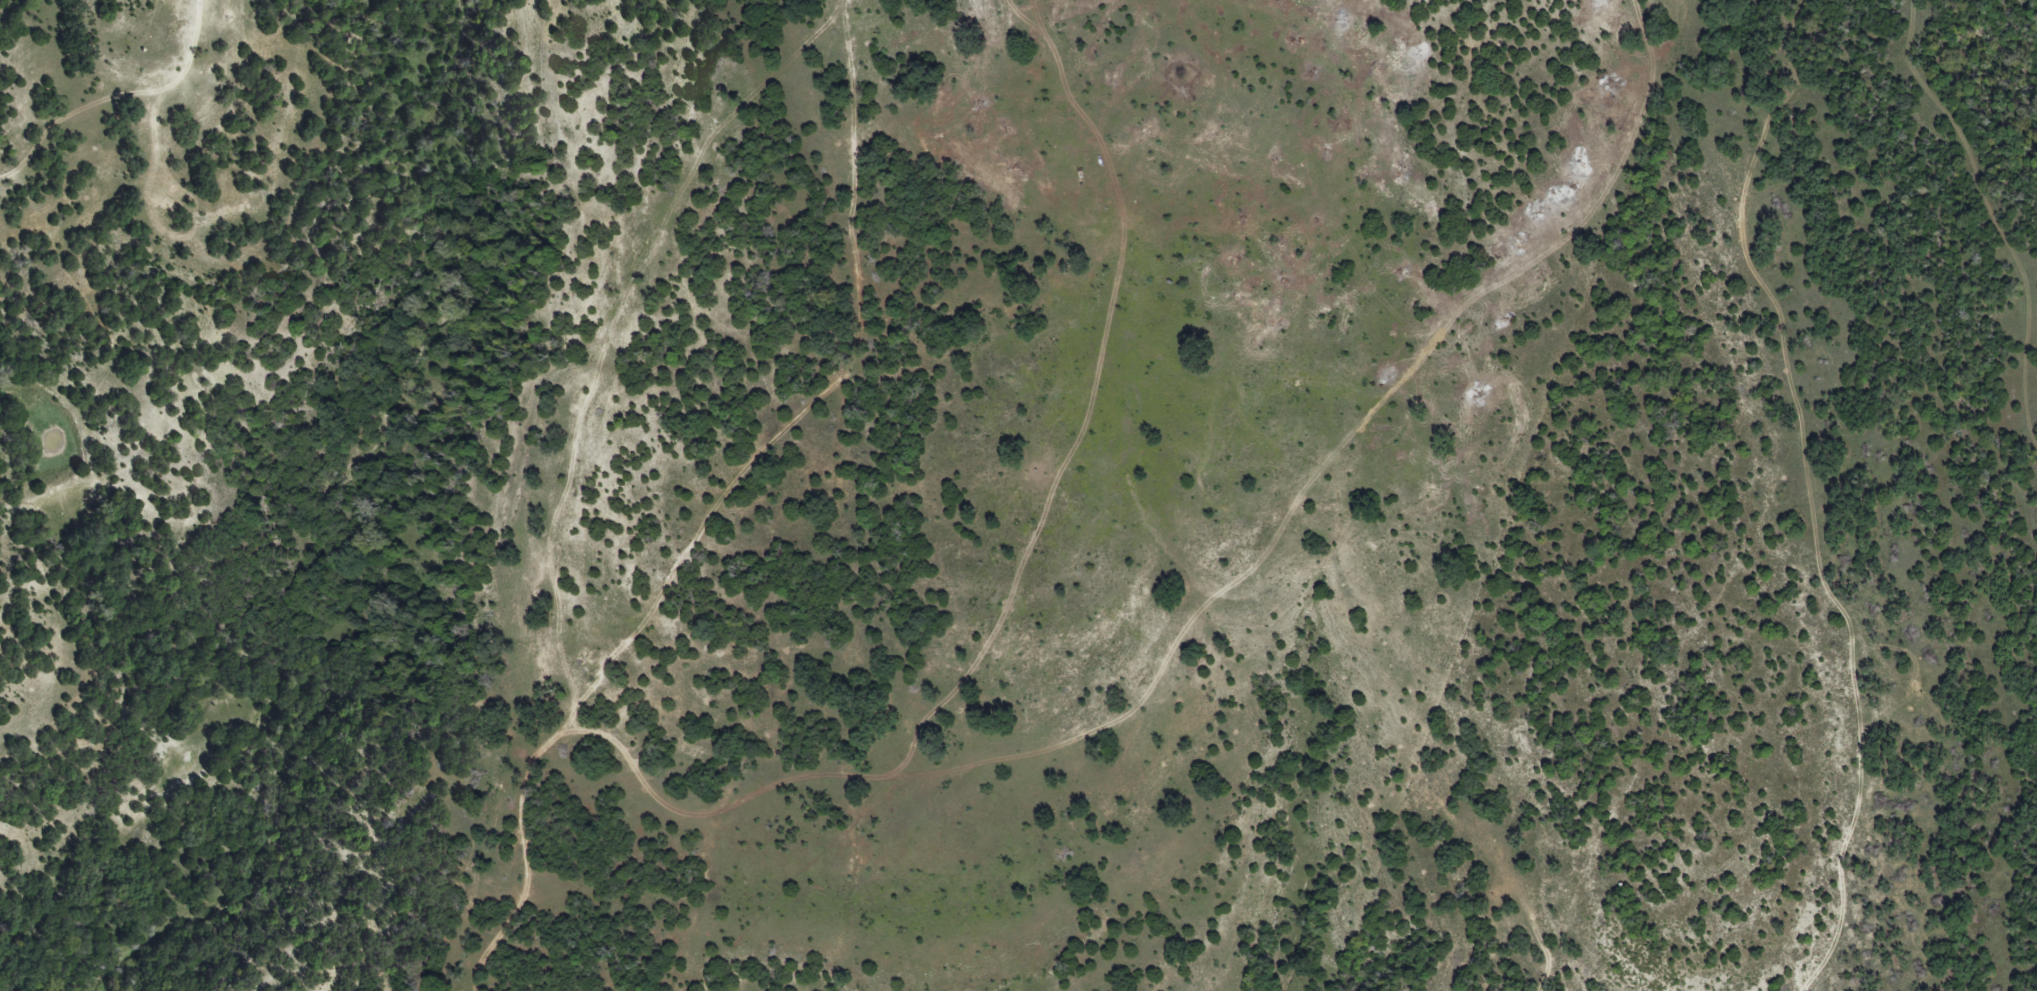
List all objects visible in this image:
road: (1772, 501)
road: (719, 514)

